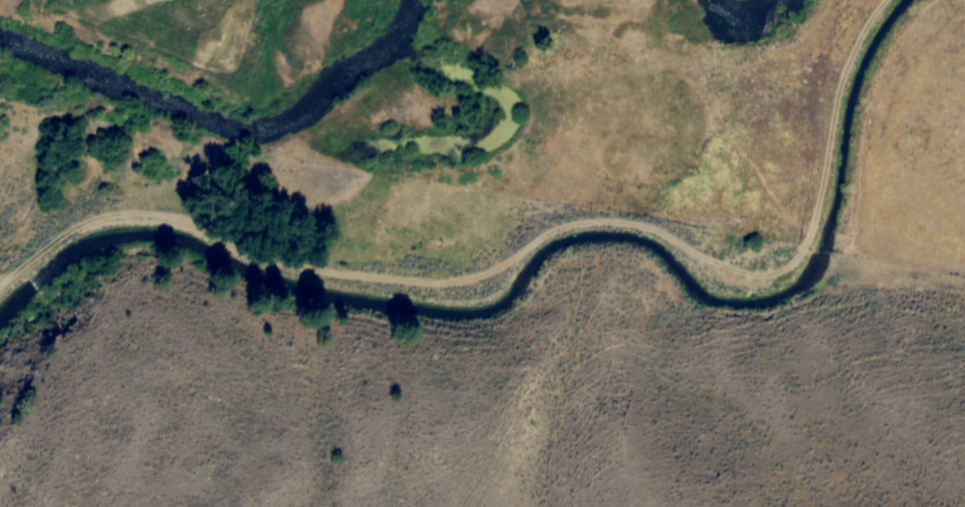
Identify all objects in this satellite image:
river: (747, 20)
river: (224, 125)

